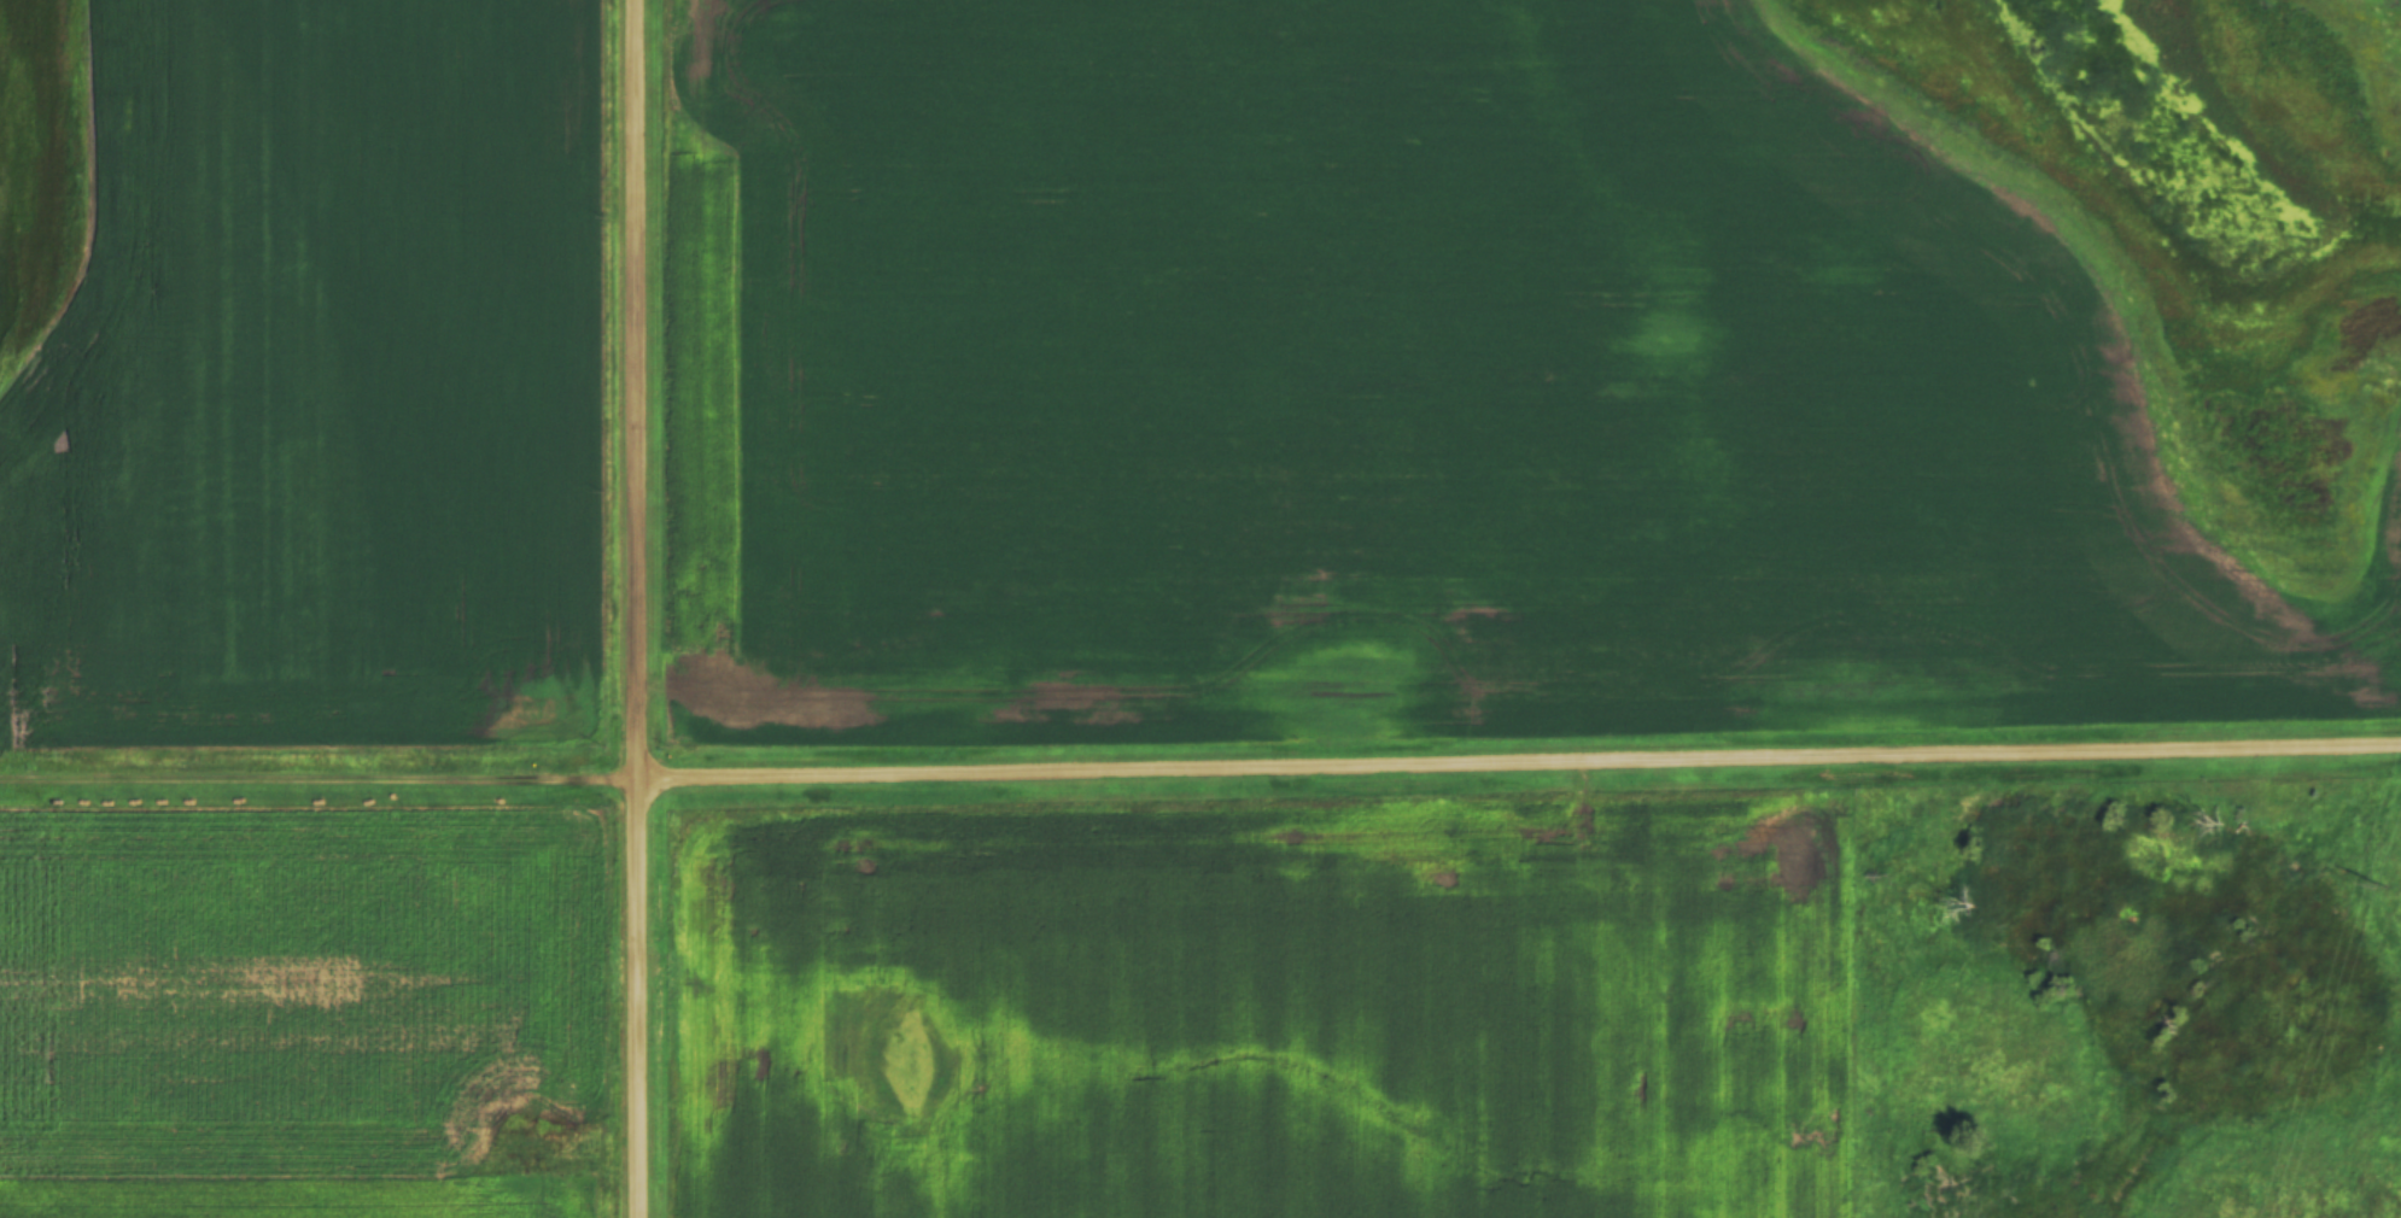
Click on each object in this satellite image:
road: (636, 609)
road: (1200, 769)
power tower: (2379, 884)

